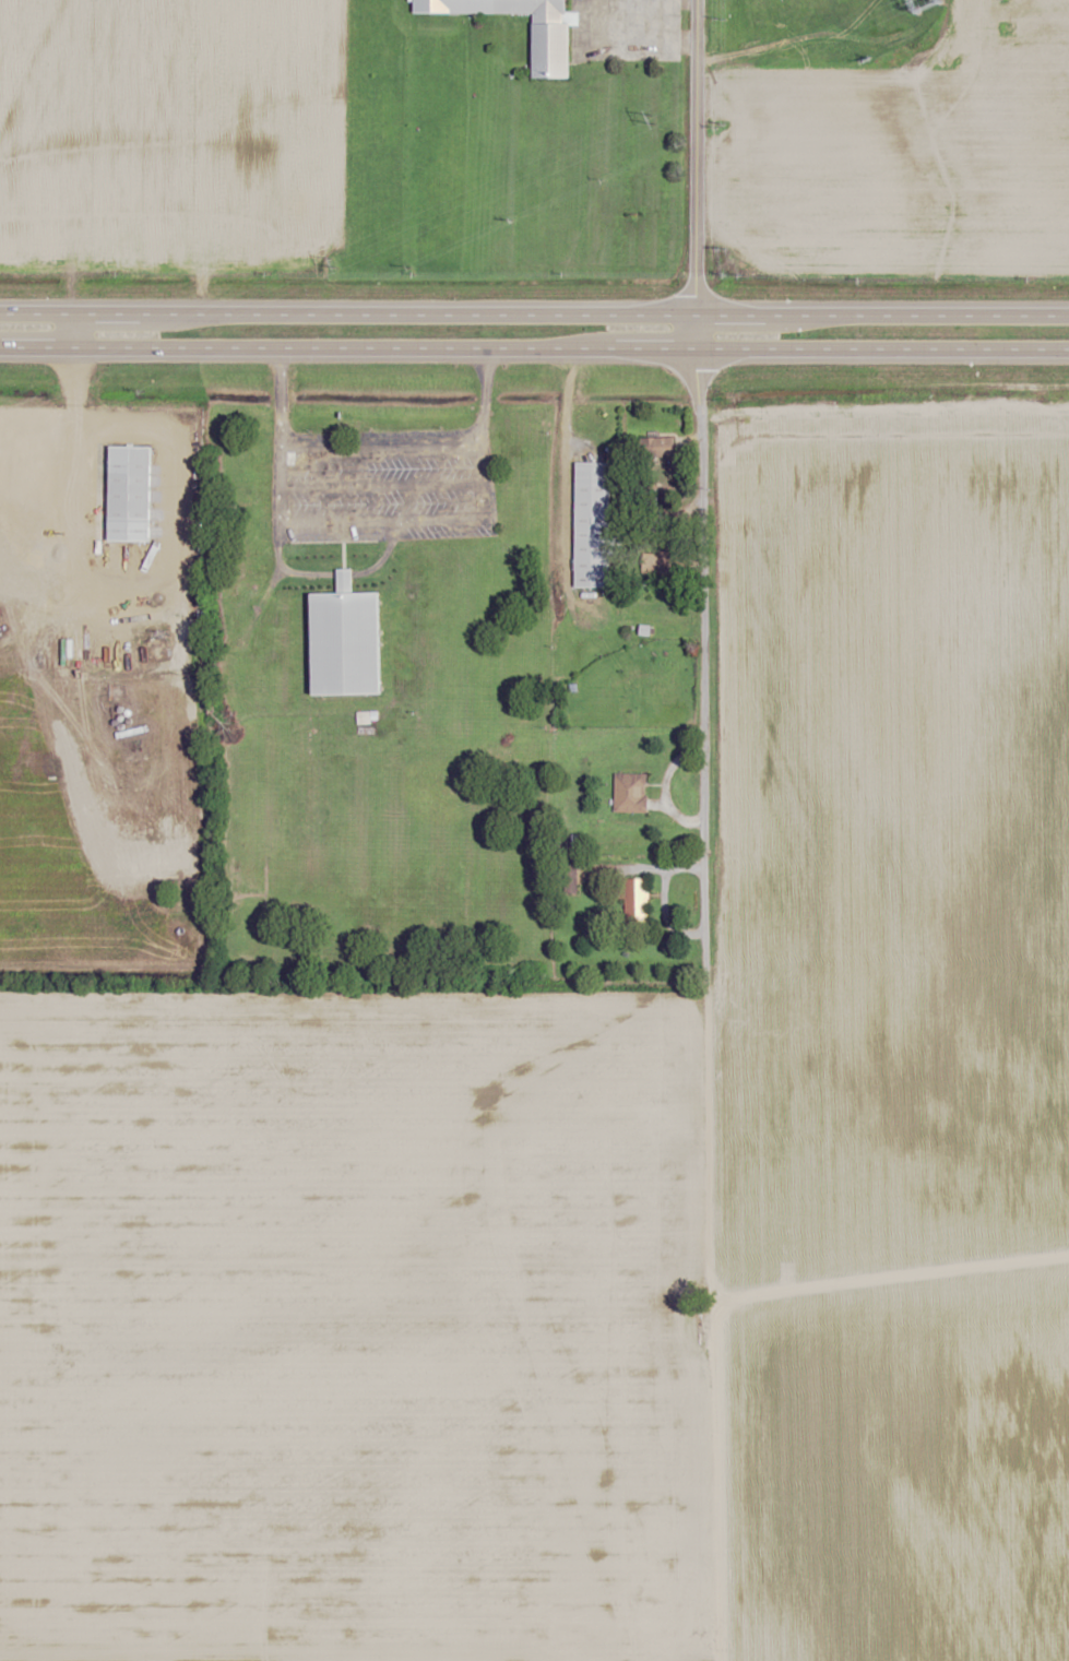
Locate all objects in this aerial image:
parking lot: (627, 29)
building: (556, 36)
crop: (171, 138)
road: (534, 316)
road: (534, 349)
building: (660, 447)
road: (381, 448)
road: (381, 478)
parking lot: (381, 484)
building: (132, 494)
road: (334, 521)
building: (593, 524)
road: (370, 570)
building: (349, 639)
building: (630, 792)
road: (697, 829)
building: (637, 900)

